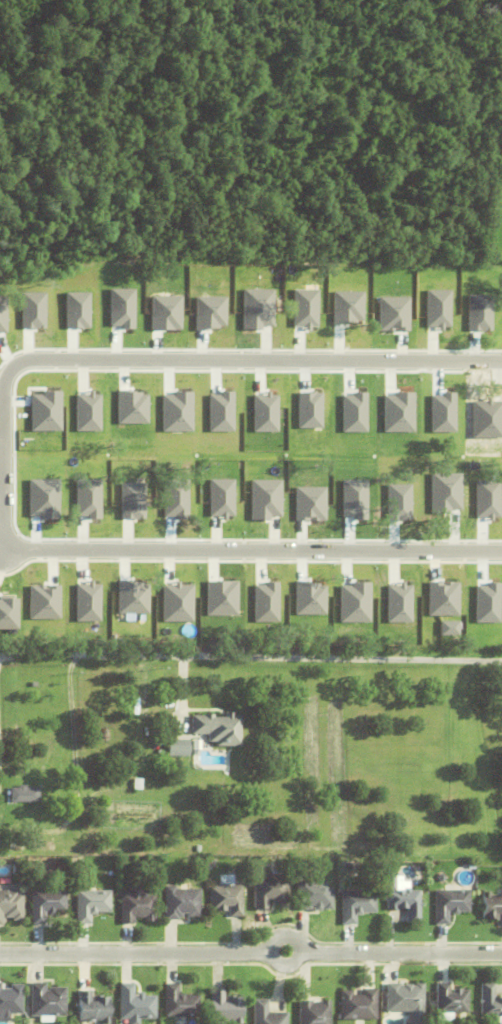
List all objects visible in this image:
building: (501, 150)
road: (2, 458)
road: (250, 656)
building: (218, 728)
building: (177, 748)
building: (24, 794)
building: (39, 845)
building: (472, 865)
building: (442, 878)
building: (269, 889)
building: (313, 895)
building: (401, 896)
building: (226, 899)
building: (181, 903)
building: (47, 904)
building: (91, 904)
building: (357, 904)
building: (450, 904)
building: (11, 905)
building: (137, 905)
building: (492, 906)
road: (251, 951)
building: (405, 997)
building: (452, 999)
building: (11, 1000)
building: (48, 1000)
building: (490, 1001)
building: (180, 1003)
building: (135, 1004)
building: (359, 1005)
building: (94, 1008)
building: (225, 1008)
building: (315, 1012)
building: (267, 1014)

